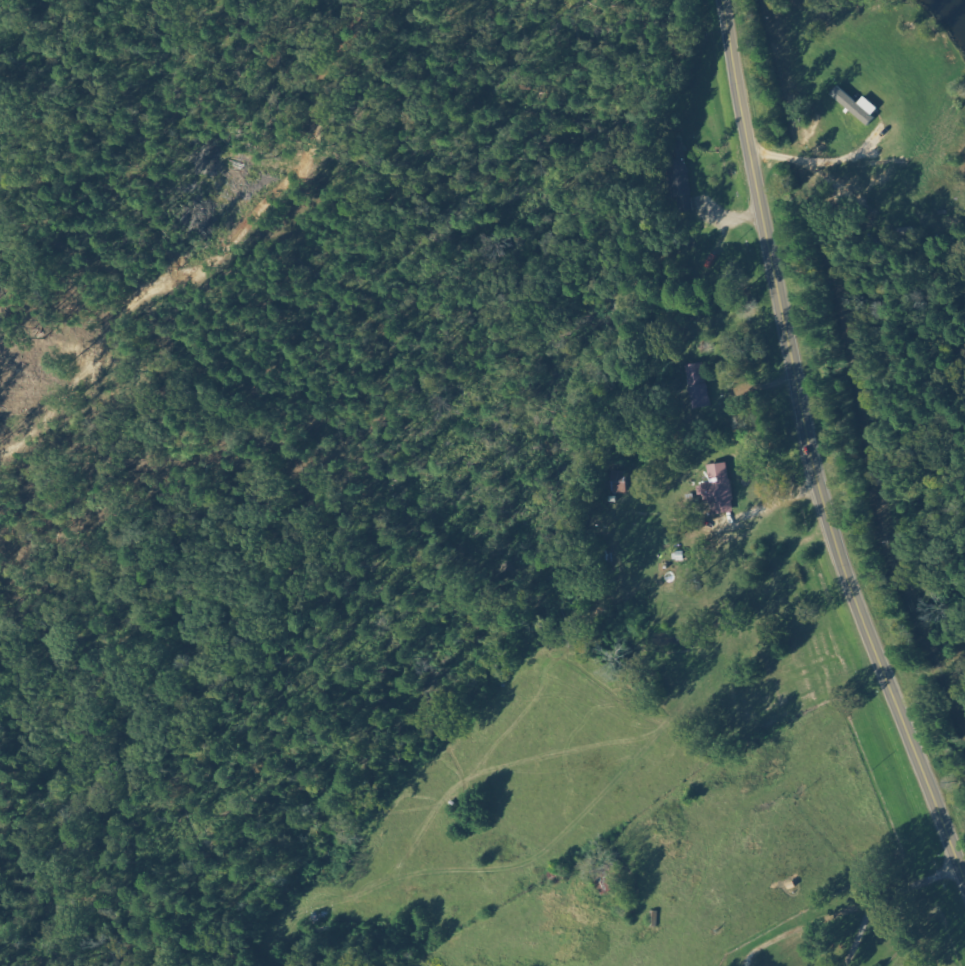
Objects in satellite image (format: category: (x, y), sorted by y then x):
building: (855, 106)
building: (683, 196)
building: (697, 385)
road: (683, 453)
road: (810, 456)
building: (718, 489)

